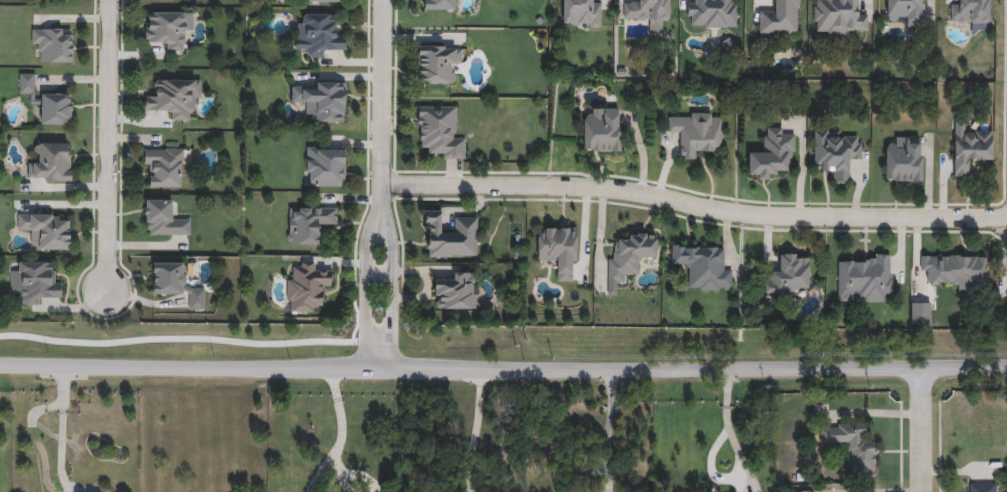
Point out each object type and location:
building: (327, 1)
building: (442, 4)
building: (907, 10)
building: (646, 11)
building: (581, 12)
building: (712, 12)
building: (971, 12)
building: (780, 17)
building: (838, 17)
building: (168, 29)
building: (318, 35)
building: (53, 44)
building: (437, 61)
road: (337, 76)
building: (27, 84)
building: (175, 98)
building: (321, 100)
building: (56, 110)
road: (383, 113)
building: (602, 128)
building: (439, 130)
building: (696, 130)
road: (108, 145)
building: (969, 147)
building: (835, 151)
building: (771, 152)
building: (904, 158)
building: (52, 163)
road: (802, 165)
building: (165, 167)
building: (325, 167)
road: (63, 206)
road: (694, 207)
building: (164, 220)
building: (309, 224)
building: (46, 231)
building: (449, 234)
building: (559, 248)
building: (629, 253)
building: (702, 264)
building: (955, 268)
building: (789, 273)
building: (865, 277)
building: (34, 283)
building: (176, 284)
building: (307, 289)
building: (456, 290)
road: (368, 296)
road: (393, 296)
road: (503, 369)
road: (338, 411)
road: (874, 415)
road: (922, 429)
road: (60, 430)
road: (475, 430)
road: (606, 430)
road: (731, 432)
building: (851, 444)
road: (712, 467)
road: (318, 471)
road: (343, 473)
building: (979, 486)
road: (90, 489)

